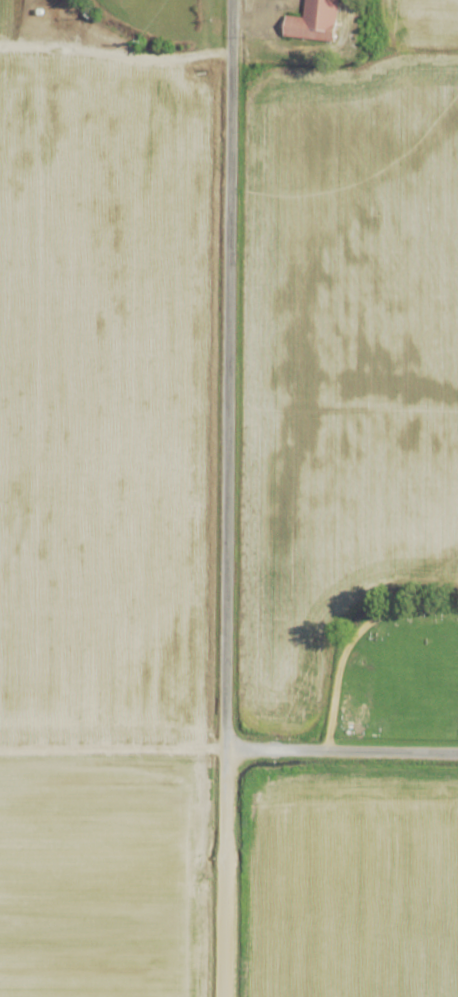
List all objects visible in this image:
building: (314, 21)
road: (112, 46)
road: (224, 130)
road: (220, 629)
road: (352, 636)
park: (395, 672)
road: (110, 748)
road: (339, 748)

